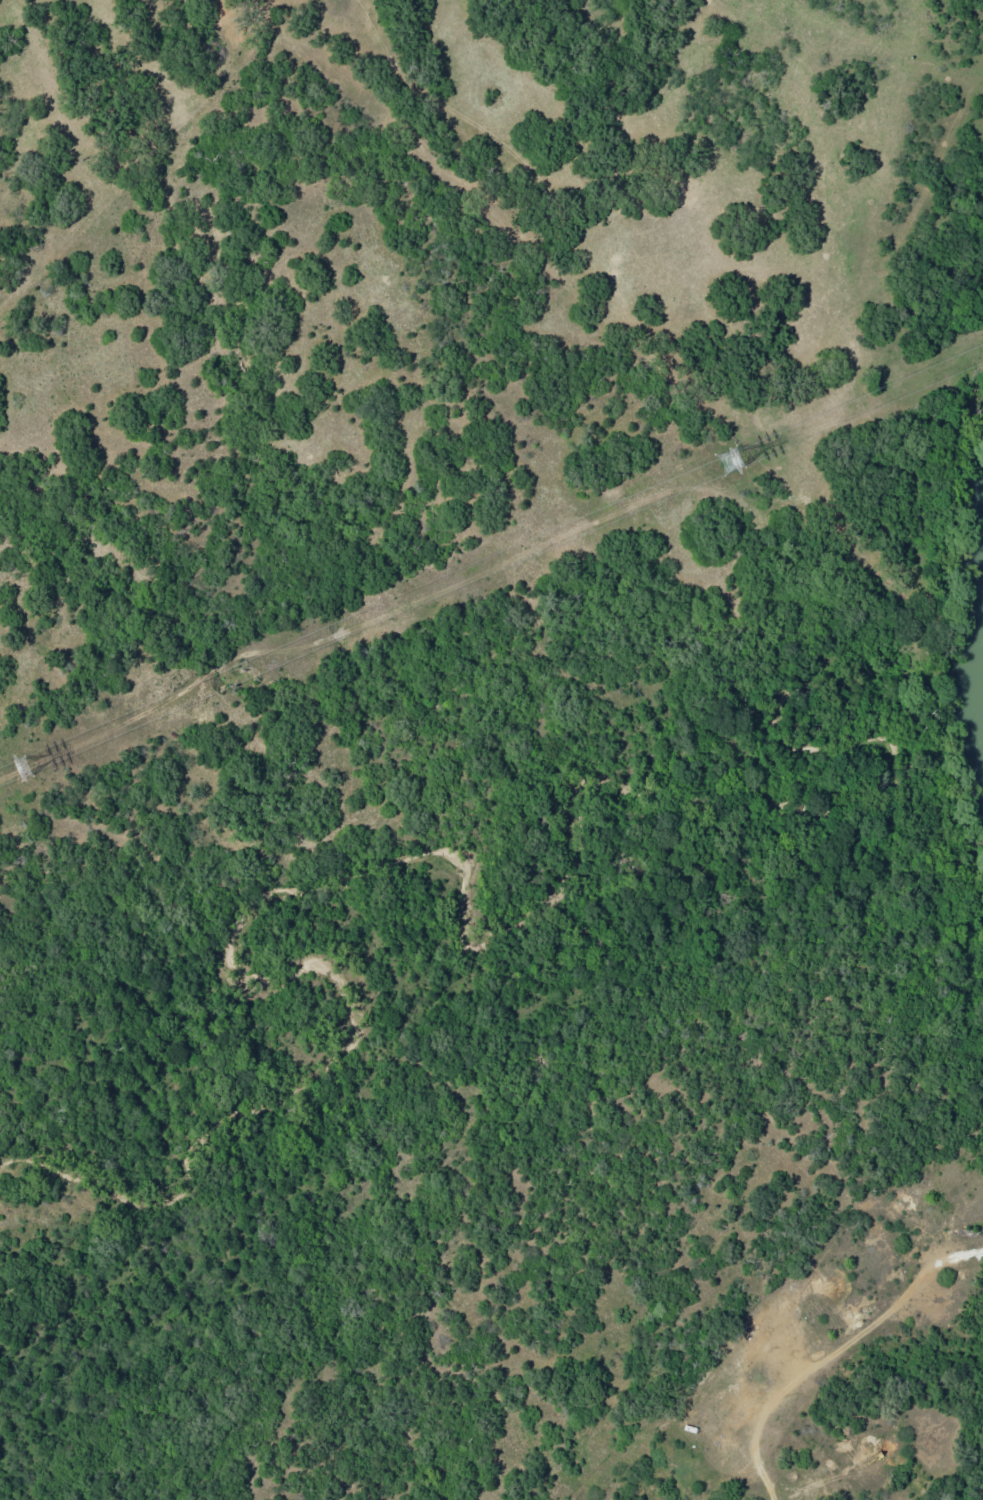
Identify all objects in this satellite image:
power tower: (726, 460)
power tower: (19, 769)
road: (854, 1363)

